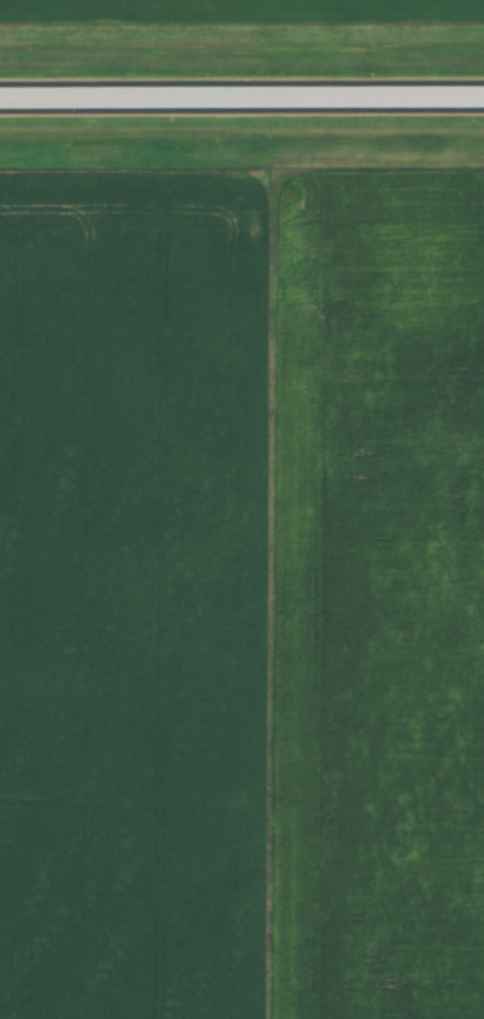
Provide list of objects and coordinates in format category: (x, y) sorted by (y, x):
road: (242, 96)

